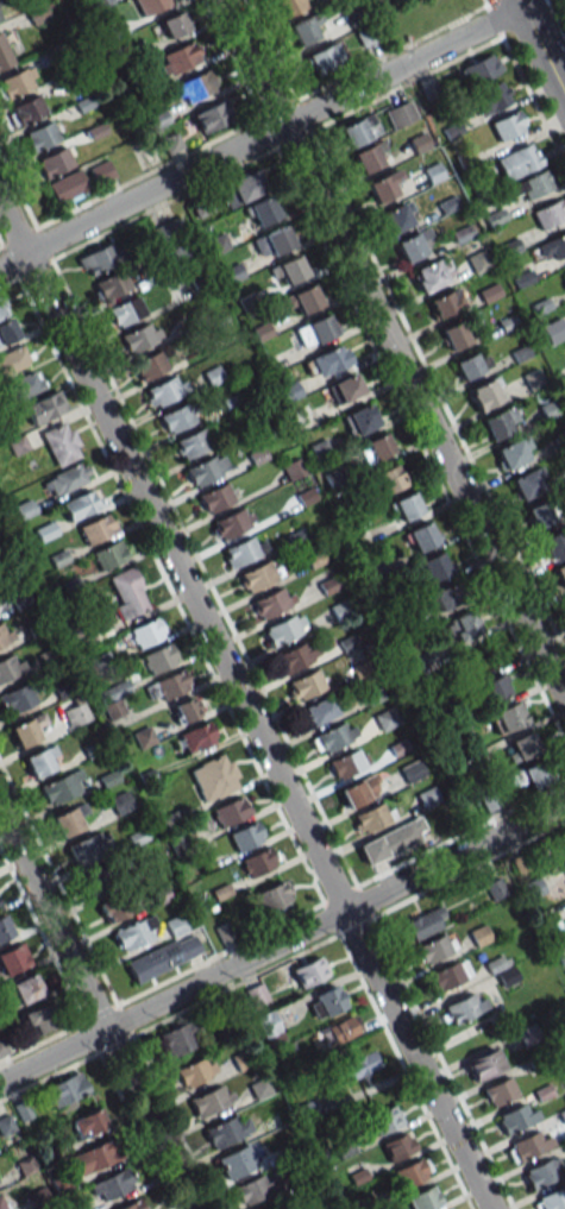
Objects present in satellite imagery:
road: (484, 1)
building: (150, 5)
building: (291, 5)
building: (1, 14)
building: (37, 14)
building: (174, 24)
building: (305, 29)
road: (540, 49)
building: (4, 55)
building: (177, 58)
building: (324, 58)
building: (481, 69)
building: (15, 83)
road: (525, 84)
building: (194, 87)
building: (491, 97)
building: (26, 111)
building: (400, 114)
building: (212, 115)
building: (508, 125)
building: (356, 131)
building: (40, 136)
road: (259, 136)
building: (369, 157)
building: (519, 160)
building: (81, 181)
building: (533, 184)
building: (384, 187)
building: (245, 188)
building: (263, 210)
building: (550, 213)
building: (397, 216)
building: (168, 231)
building: (272, 241)
building: (412, 245)
building: (554, 246)
building: (181, 253)
building: (98, 259)
building: (477, 262)
building: (290, 269)
building: (564, 271)
building: (429, 276)
building: (522, 278)
building: (112, 285)
building: (489, 292)
building: (303, 298)
building: (445, 303)
building: (540, 306)
building: (2, 308)
building: (124, 311)
building: (507, 323)
building: (315, 330)
building: (553, 330)
building: (7, 332)
building: (453, 335)
building: (140, 336)
road: (393, 351)
building: (13, 360)
building: (328, 360)
building: (471, 364)
building: (150, 365)
building: (26, 384)
building: (345, 388)
building: (164, 390)
building: (486, 392)
building: (44, 407)
building: (550, 410)
building: (177, 417)
building: (359, 420)
building: (498, 423)
building: (61, 443)
building: (193, 443)
building: (378, 446)
building: (513, 453)
building: (203, 471)
building: (67, 478)
building: (388, 479)
building: (527, 483)
building: (215, 497)
building: (80, 504)
building: (406, 505)
building: (539, 514)
building: (230, 523)
building: (96, 529)
building: (420, 536)
building: (554, 543)
building: (240, 552)
building: (108, 555)
building: (434, 566)
building: (560, 573)
building: (257, 575)
building: (127, 593)
building: (447, 596)
building: (270, 602)
building: (464, 625)
building: (284, 630)
building: (146, 631)
building: (5, 634)
building: (158, 659)
building: (11, 667)
building: (305, 684)
building: (169, 685)
building: (494, 688)
building: (18, 697)
road: (244, 706)
building: (187, 709)
building: (320, 711)
building: (76, 714)
building: (508, 716)
building: (27, 729)
building: (196, 737)
building: (333, 737)
building: (522, 745)
building: (39, 761)
building: (345, 763)
building: (532, 775)
building: (214, 776)
building: (63, 787)
building: (358, 791)
building: (489, 799)
building: (120, 802)
building: (230, 811)
building: (371, 817)
building: (68, 819)
building: (245, 836)
building: (391, 842)
building: (561, 842)
building: (88, 849)
building: (258, 862)
building: (533, 887)
building: (496, 888)
building: (272, 898)
building: (112, 906)
building: (550, 921)
building: (426, 923)
building: (4, 927)
building: (136, 933)
road: (282, 942)
building: (434, 947)
building: (163, 957)
building: (13, 958)
building: (307, 972)
building: (450, 975)
building: (25, 988)
building: (257, 995)
building: (326, 1002)
building: (464, 1007)
road: (95, 1012)
building: (37, 1020)
building: (269, 1025)
building: (340, 1029)
building: (178, 1038)
building: (356, 1063)
building: (484, 1064)
building: (195, 1070)
building: (65, 1089)
building: (500, 1091)
building: (211, 1100)
building: (516, 1117)
building: (385, 1120)
building: (87, 1123)
building: (6, 1125)
building: (227, 1131)
building: (398, 1146)
building: (343, 1147)
building: (527, 1147)
building: (94, 1157)
building: (236, 1161)
building: (412, 1172)
building: (542, 1172)
building: (111, 1185)
building: (255, 1189)
building: (423, 1198)
building: (550, 1201)
building: (133, 1204)
building: (1, 1205)
building: (276, 1207)

